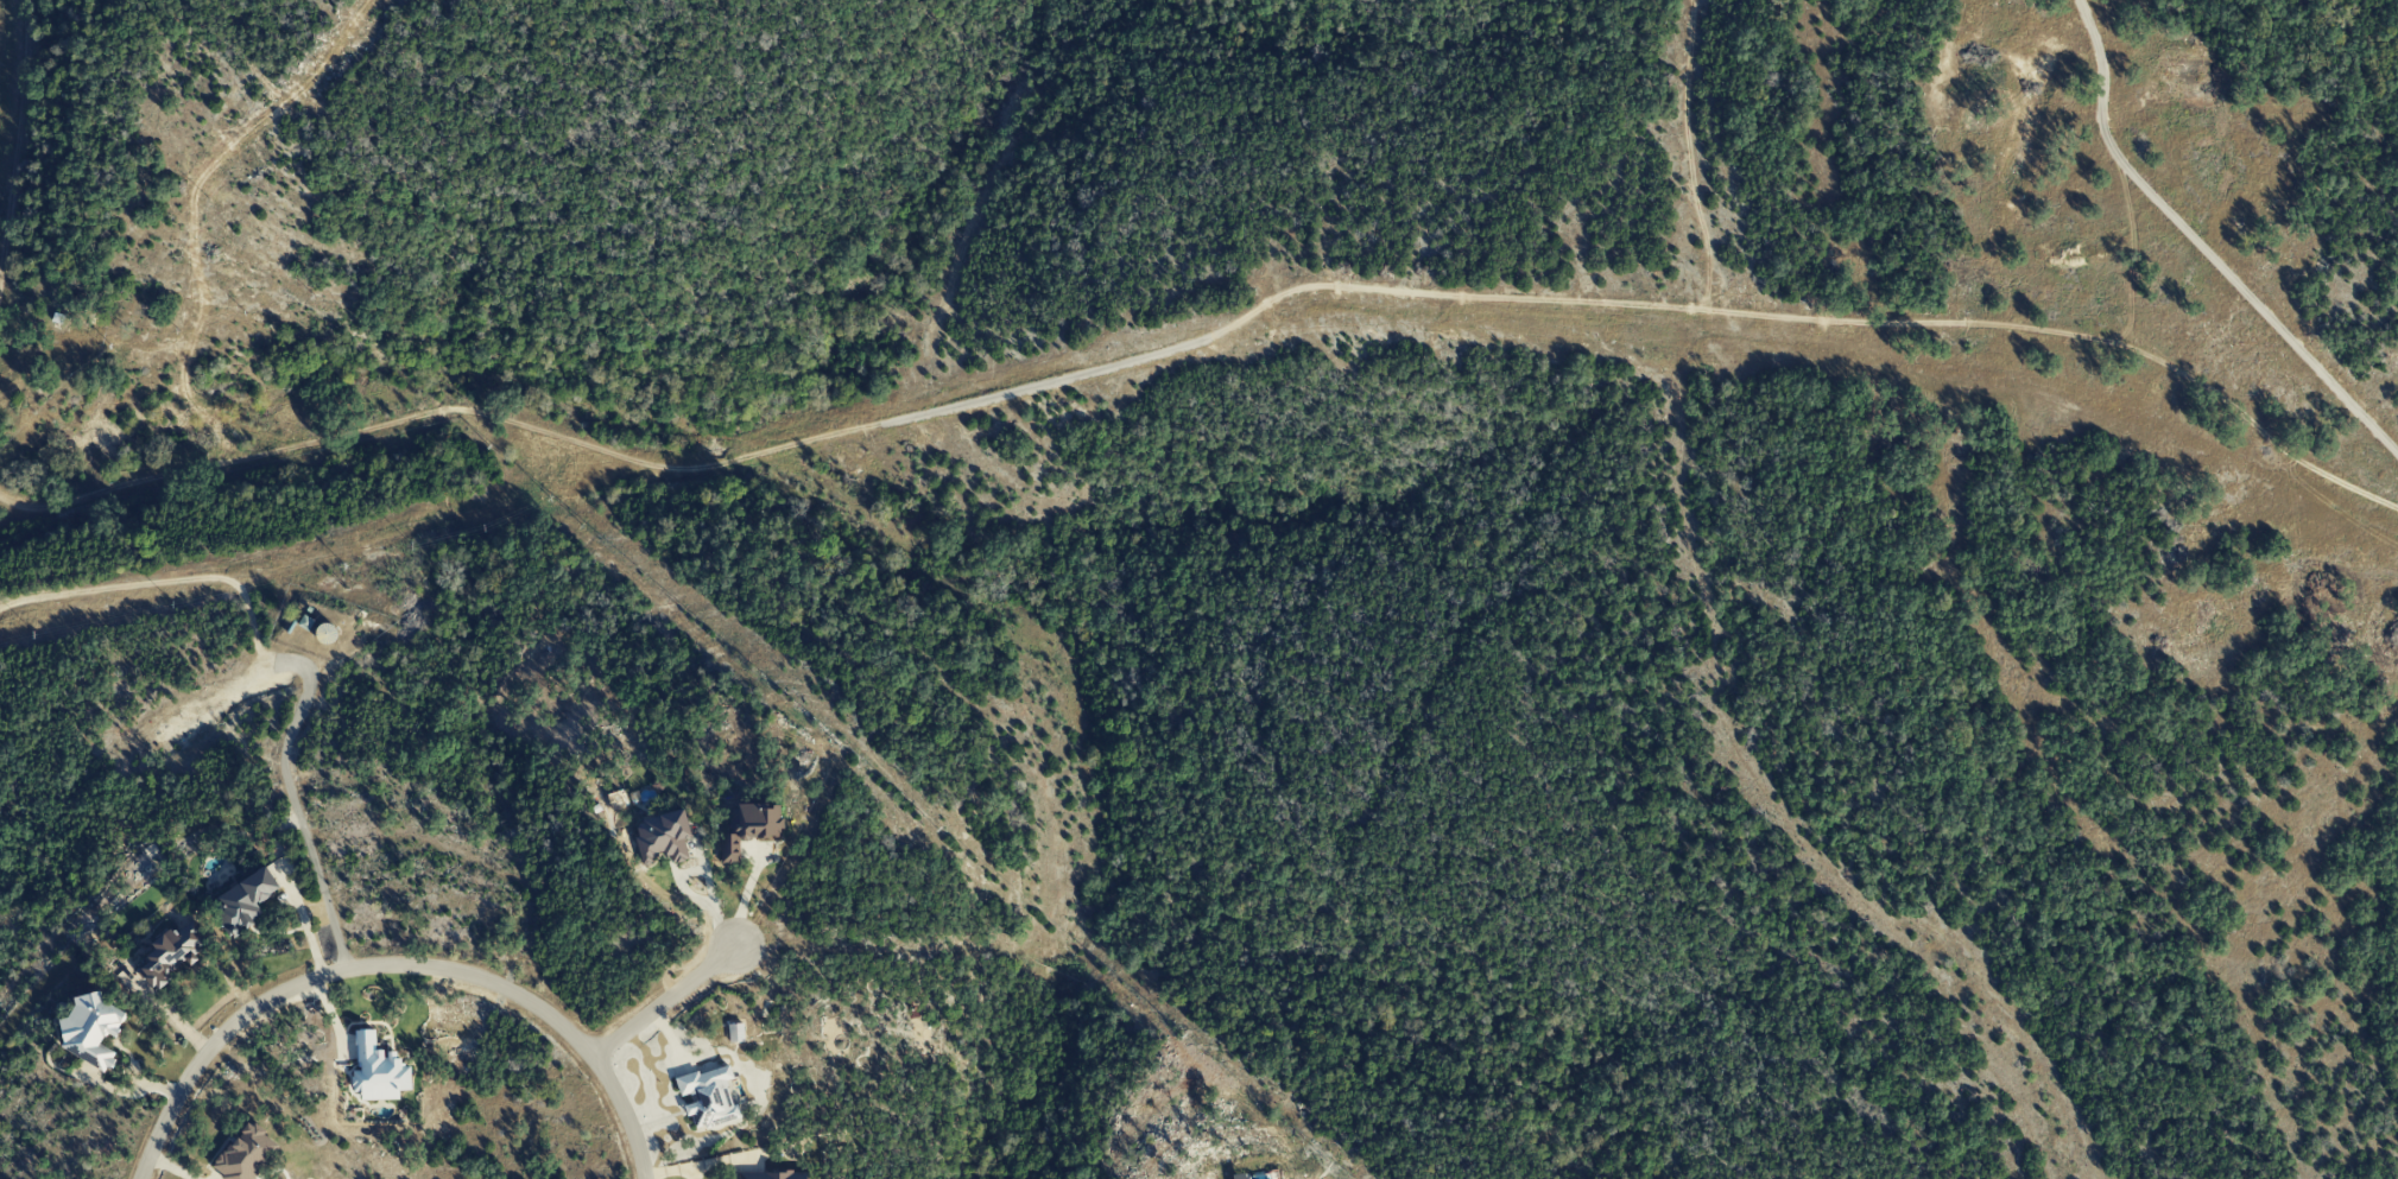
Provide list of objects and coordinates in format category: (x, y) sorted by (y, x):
road: (2200, 247)
road: (297, 817)
building: (748, 826)
building: (662, 836)
road: (706, 877)
building: (242, 900)
building: (171, 952)
road: (325, 974)
road: (663, 1000)
building: (90, 1028)
building: (735, 1032)
building: (378, 1070)
building: (708, 1096)
road: (624, 1113)
building: (245, 1153)
road: (706, 1168)
building: (768, 1174)
road: (690, 1175)

